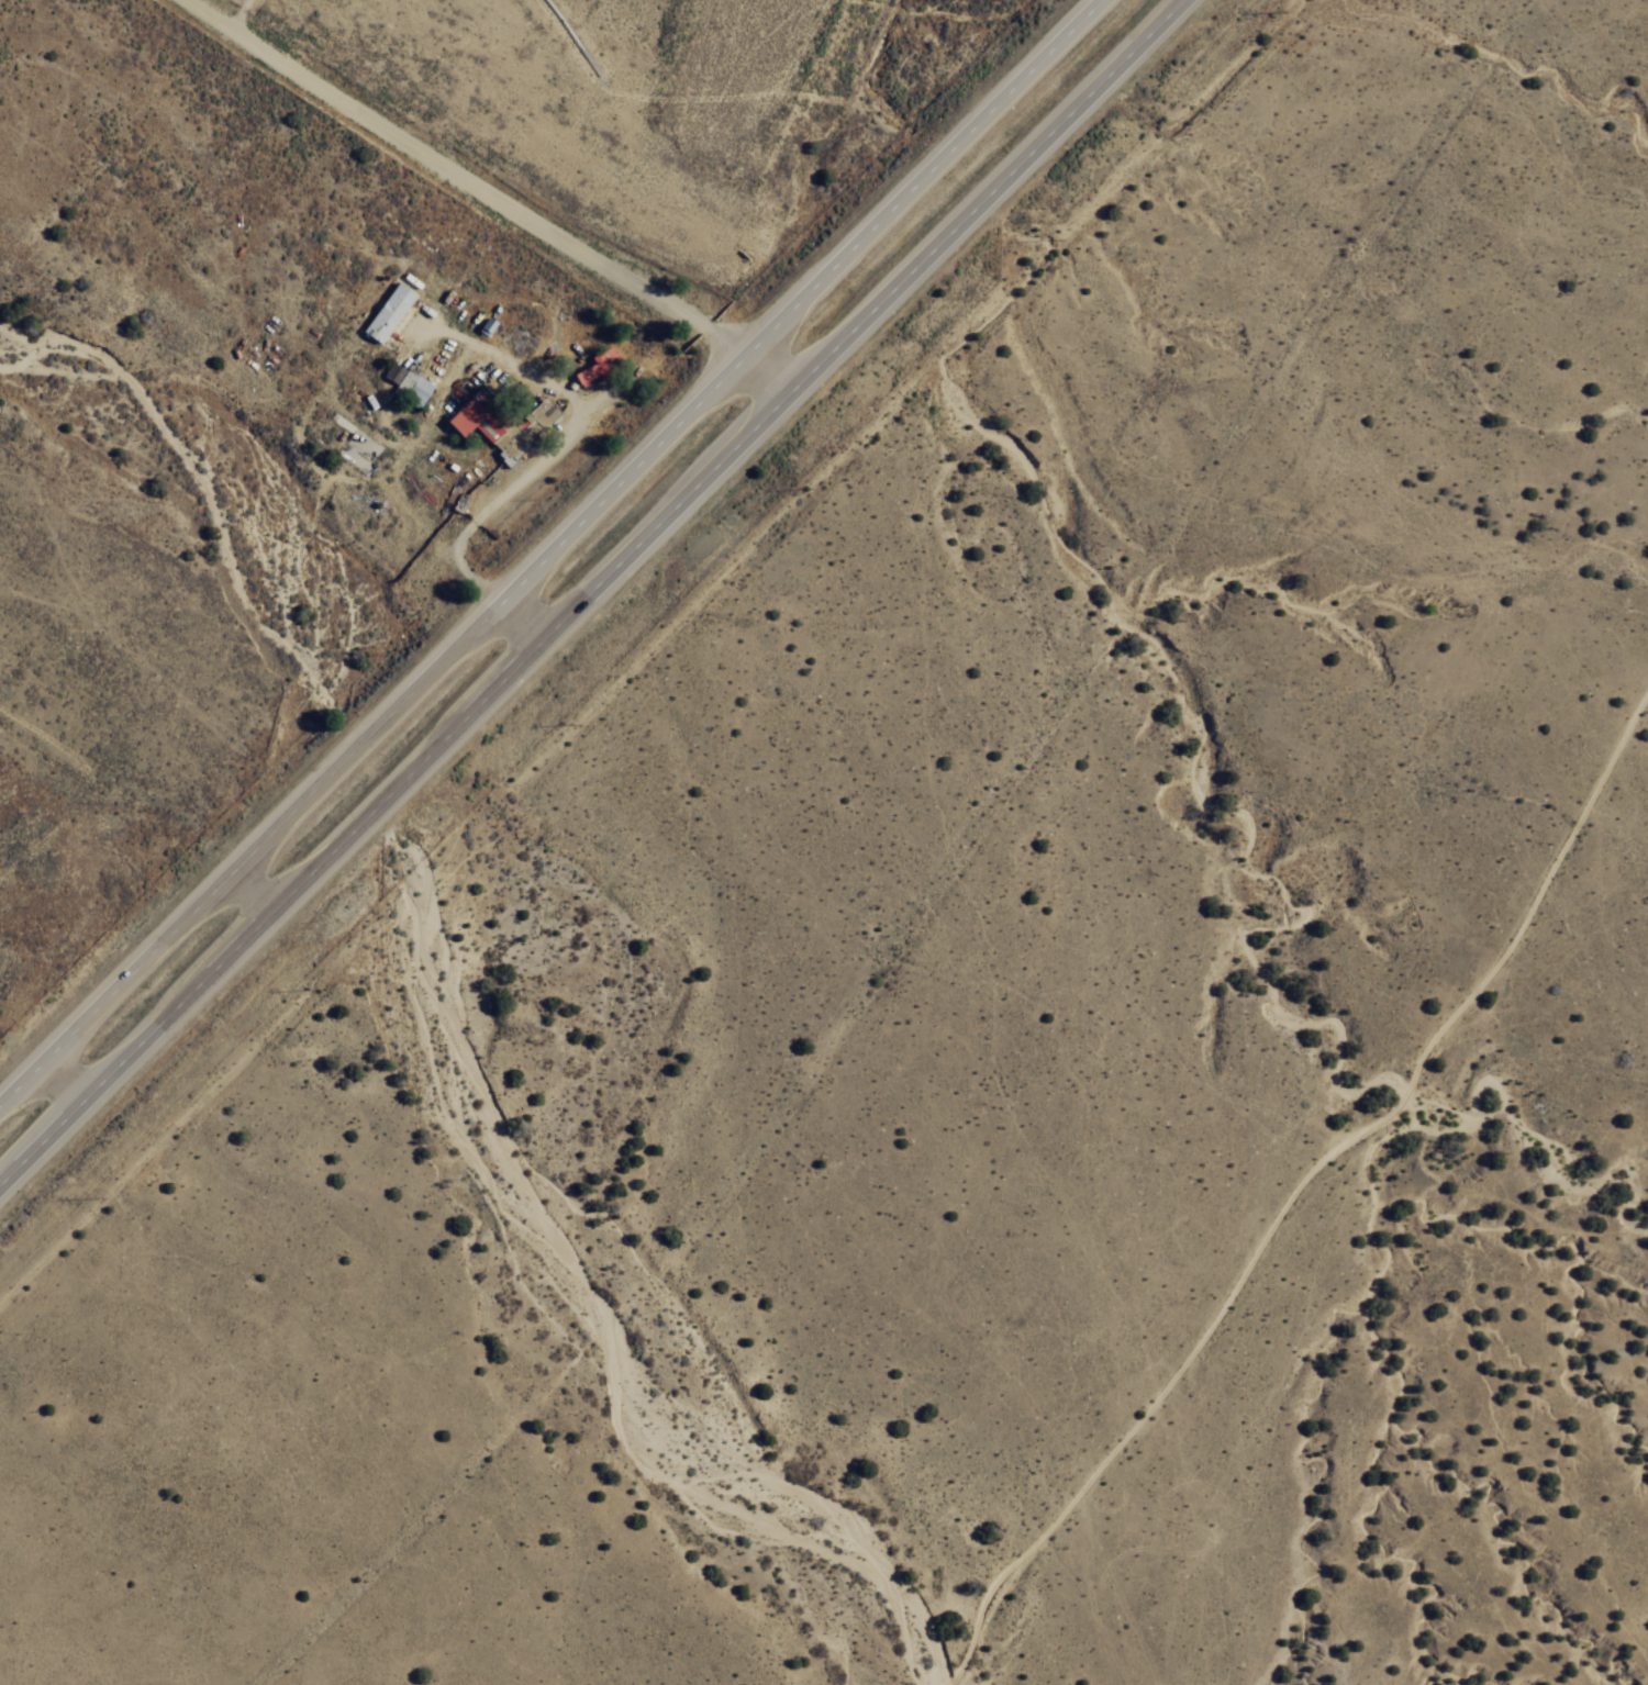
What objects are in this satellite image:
road: (973, 48)
building: (387, 312)
building: (485, 325)
building: (595, 365)
road: (768, 372)
building: (404, 382)
building: (499, 424)
road: (548, 550)
road: (589, 592)
road: (517, 622)
road: (258, 883)
road: (60, 1084)
road: (1311, 1236)

